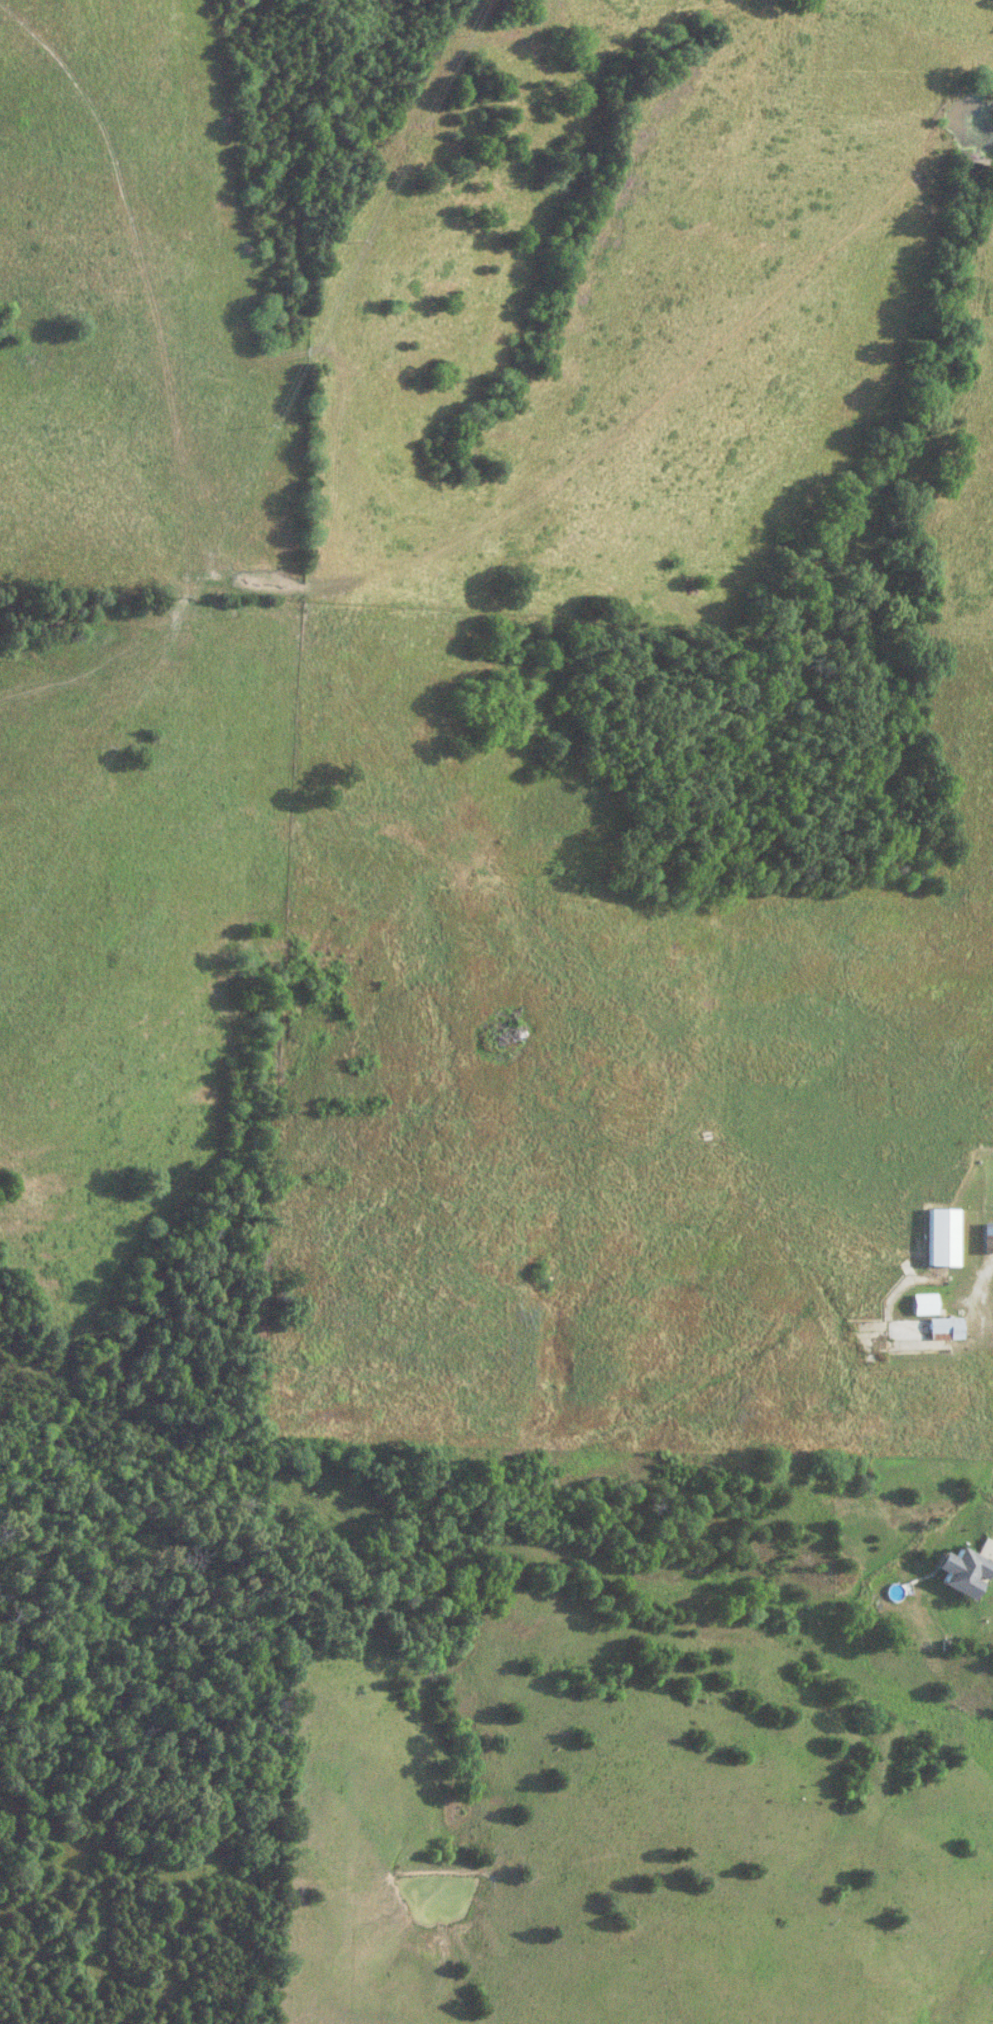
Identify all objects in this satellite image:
building: (969, 1229)
building: (939, 1237)
building: (985, 1237)
road: (978, 1284)
building: (921, 1304)
building: (922, 1328)
road: (992, 1535)
building: (953, 1572)

